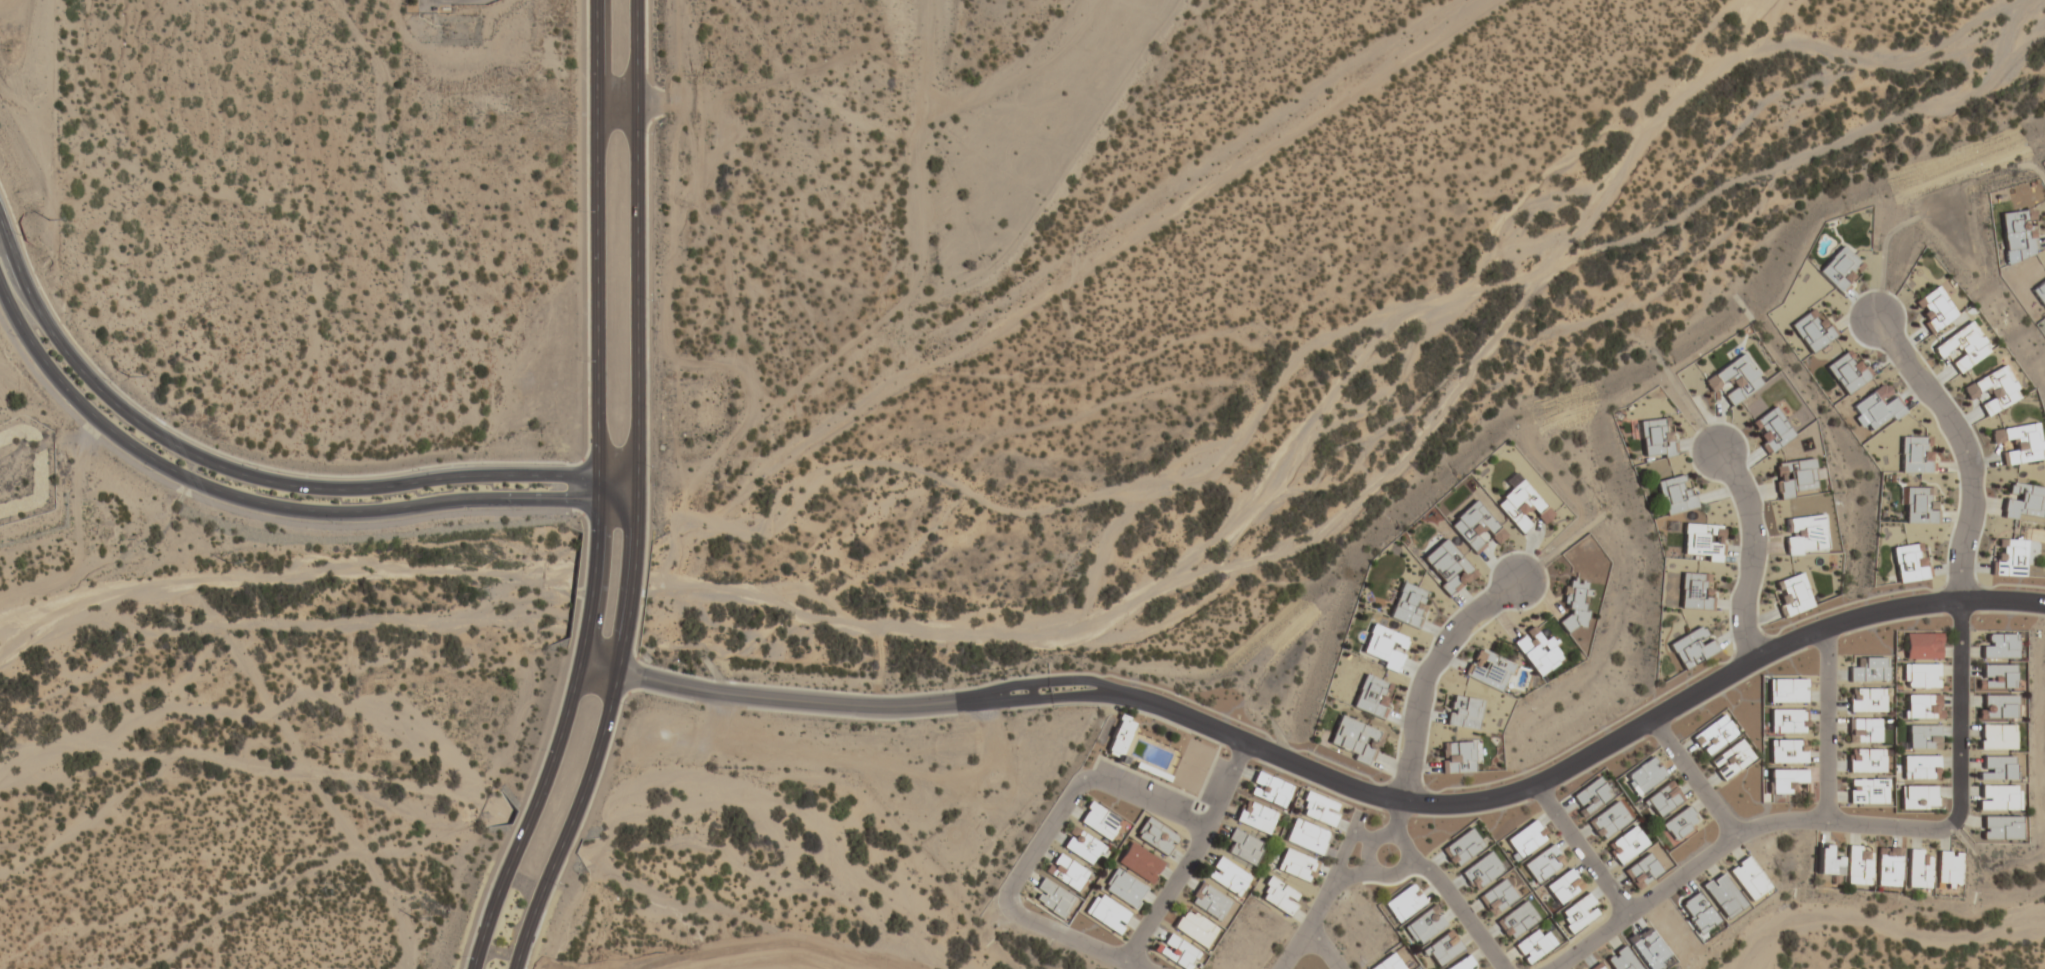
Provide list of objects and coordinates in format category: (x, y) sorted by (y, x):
power tower: (42, 220)
building: (2019, 231)
road: (599, 238)
road: (641, 253)
building: (1840, 267)
building: (2040, 292)
building: (1936, 311)
building: (1812, 329)
building: (1962, 346)
building: (1847, 370)
power tower: (125, 374)
building: (1735, 378)
building: (1992, 390)
building: (1877, 407)
building: (1771, 428)
building: (1655, 437)
building: (2019, 442)
road: (1962, 447)
building: (1915, 455)
road: (239, 473)
road: (621, 476)
building: (1795, 477)
building: (1675, 493)
road: (597, 500)
building: (2023, 500)
building: (1920, 504)
building: (1522, 506)
road: (272, 510)
road: (637, 515)
building: (1476, 525)
building: (1806, 533)
building: (1703, 540)
road: (1753, 555)
building: (2010, 556)
power tower: (223, 562)
building: (1909, 562)
building: (1446, 566)
road: (590, 586)
road: (629, 590)
building: (1696, 591)
building: (1792, 593)
building: (1408, 604)
building: (1574, 604)
building: (2000, 645)
building: (1383, 646)
building: (1535, 646)
building: (1922, 646)
building: (1691, 647)
building: (1489, 668)
building: (1869, 671)
building: (1998, 675)
road: (1427, 676)
building: (1921, 676)
building: (1785, 690)
building: (1372, 695)
building: (1866, 699)
building: (1922, 706)
building: (1997, 706)
building: (1464, 711)
building: (1786, 720)
road: (1821, 725)
building: (1863, 730)
building: (1713, 734)
building: (1923, 736)
building: (1997, 736)
building: (1118, 738)
building: (1352, 738)
power tower: (322, 750)
building: (1787, 750)
building: (1459, 755)
building: (1730, 759)
building: (1866, 759)
building: (1920, 765)
building: (1996, 767)
building: (1644, 775)
building: (1785, 778)
road: (1687, 779)
road: (1345, 784)
building: (1269, 789)
building: (1867, 790)
building: (1591, 794)
building: (1918, 796)
building: (1998, 796)
building: (1661, 799)
road: (1145, 801)
building: (1318, 808)
road: (535, 811)
road: (578, 815)
building: (1255, 816)
building: (1609, 819)
building: (1098, 820)
road: (1391, 820)
road: (1839, 821)
building: (1679, 823)
building: (2000, 826)
building: (1155, 835)
building: (1306, 835)
road: (1358, 835)
building: (1524, 838)
building: (1626, 843)
building: (1081, 845)
building: (1243, 846)
building: (1462, 847)
road: (1576, 850)
road: (1189, 854)
building: (1827, 859)
building: (1139, 861)
building: (1542, 862)
building: (1295, 864)
building: (1857, 864)
building: (1887, 865)
building: (1918, 868)
building: (1948, 868)
building: (1481, 870)
building: (1641, 870)
building: (1066, 871)
road: (1371, 872)
road: (1348, 874)
building: (1228, 875)
building: (1747, 878)
building: (1563, 885)
building: (1123, 888)
road: (1320, 894)
building: (1279, 895)
building: (1497, 896)
building: (1052, 897)
building: (1723, 897)
building: (1209, 900)
building: (1404, 902)
road: (1014, 905)
road: (1456, 906)
building: (1578, 912)
building: (1106, 913)
power tower: (411, 917)
building: (1517, 919)
building: (1424, 924)
building: (1195, 927)
building: (1532, 945)
road: (1321, 947)
building: (1442, 947)
building: (1178, 952)
building: (1621, 959)
building: (1388, 963)
building: (1461, 963)
building: (1596, 966)

